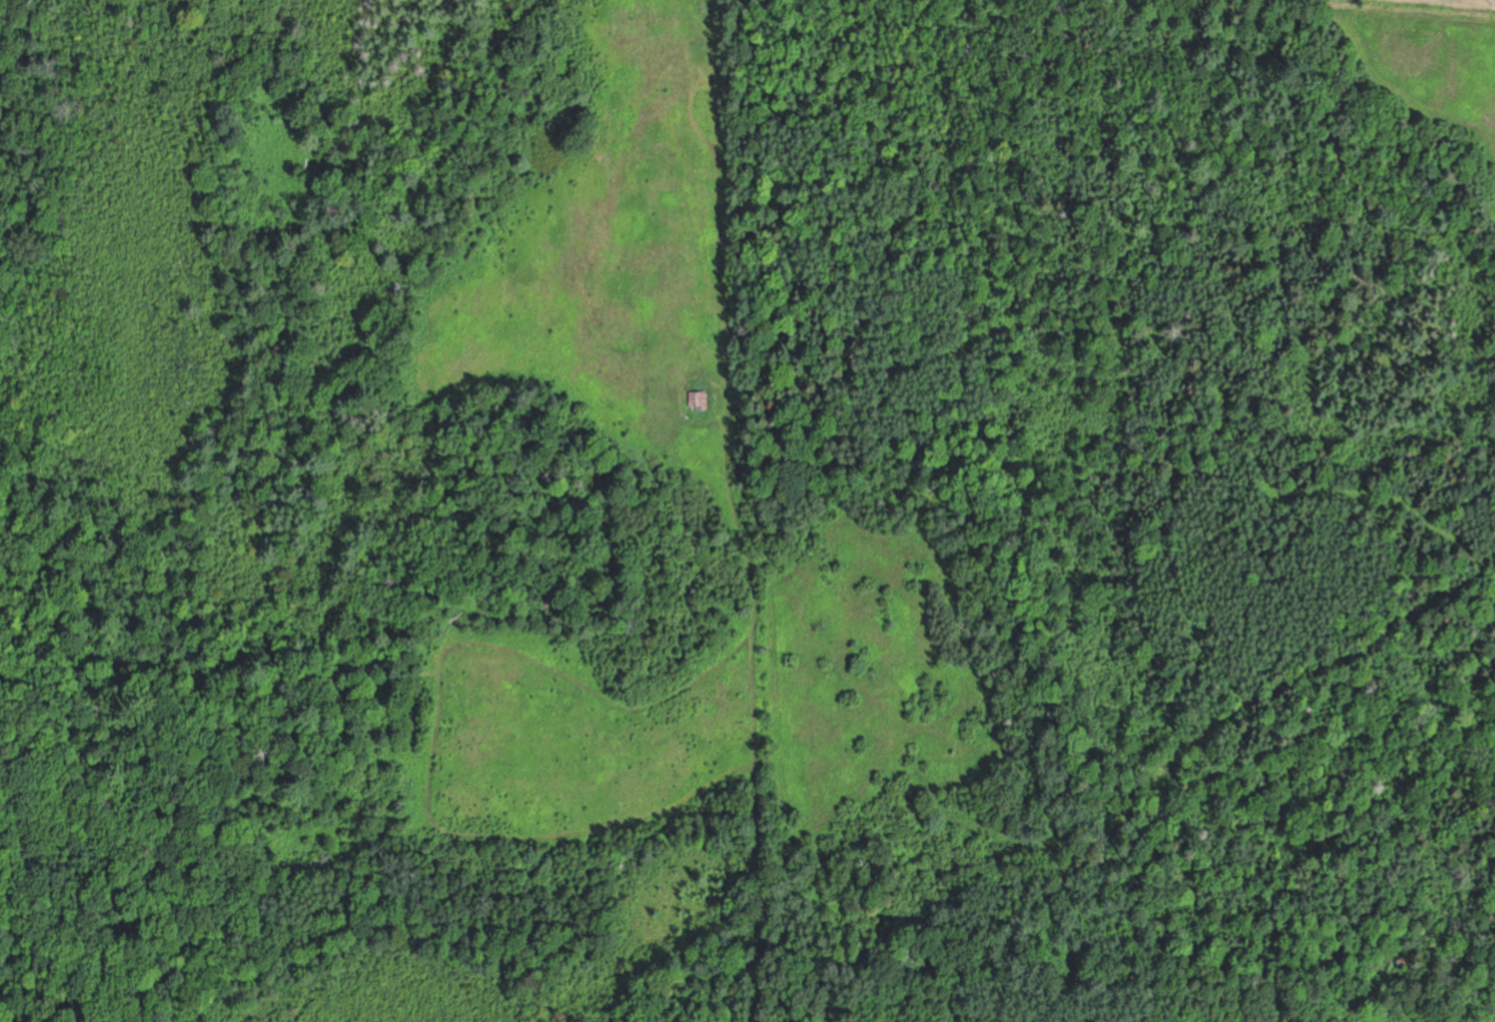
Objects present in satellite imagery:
building: (701, 399)

